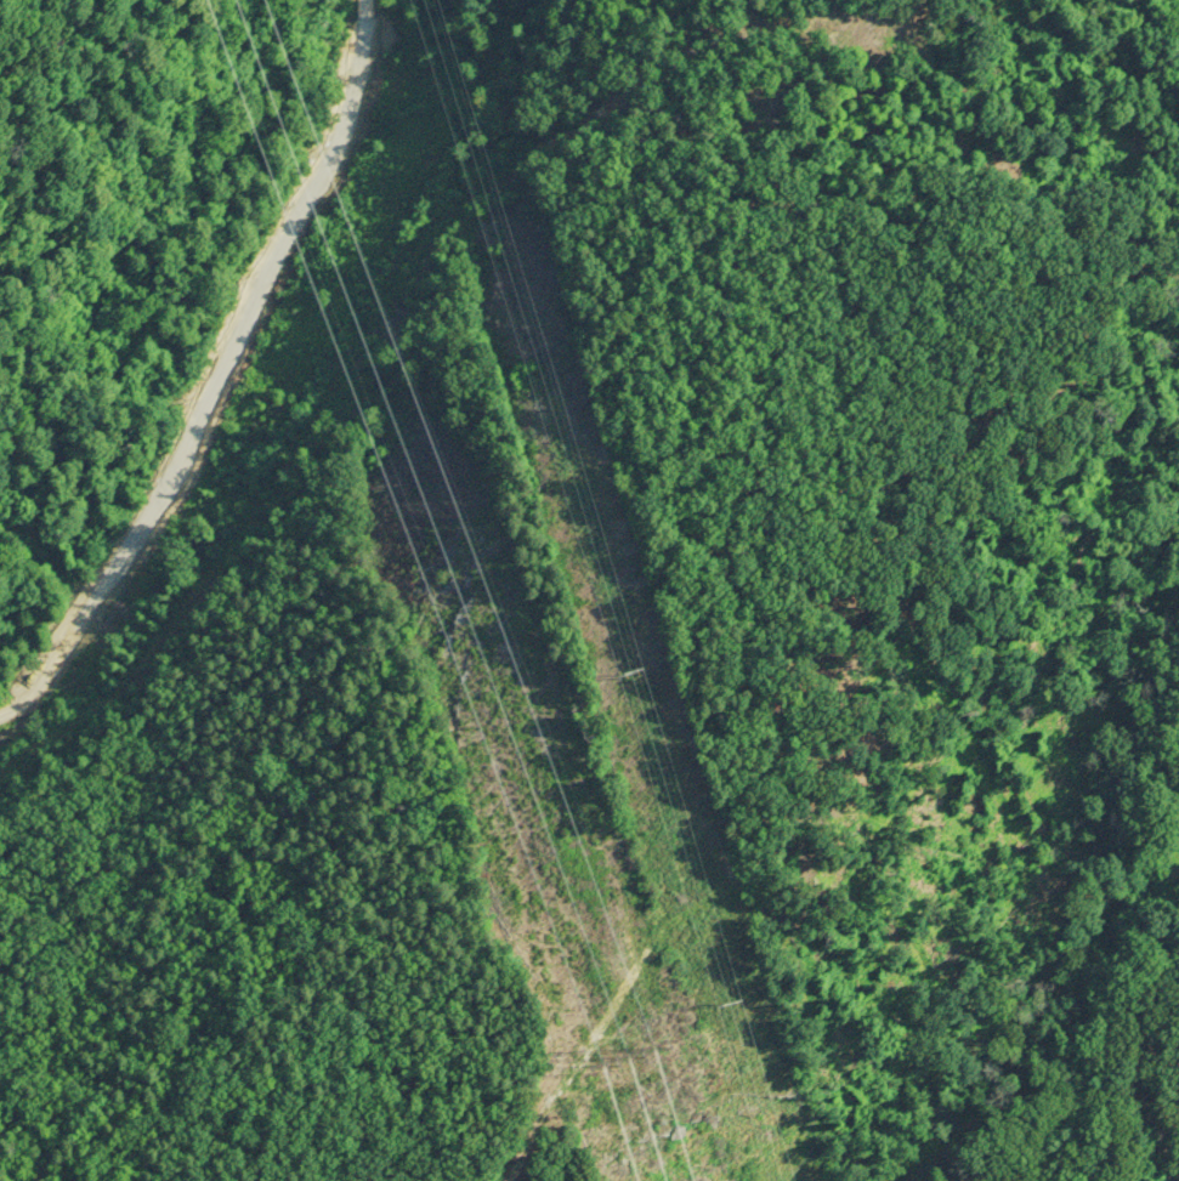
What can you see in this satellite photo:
road: (255, 408)
power tower: (635, 665)
power tower: (746, 1010)
power tower: (623, 1043)

